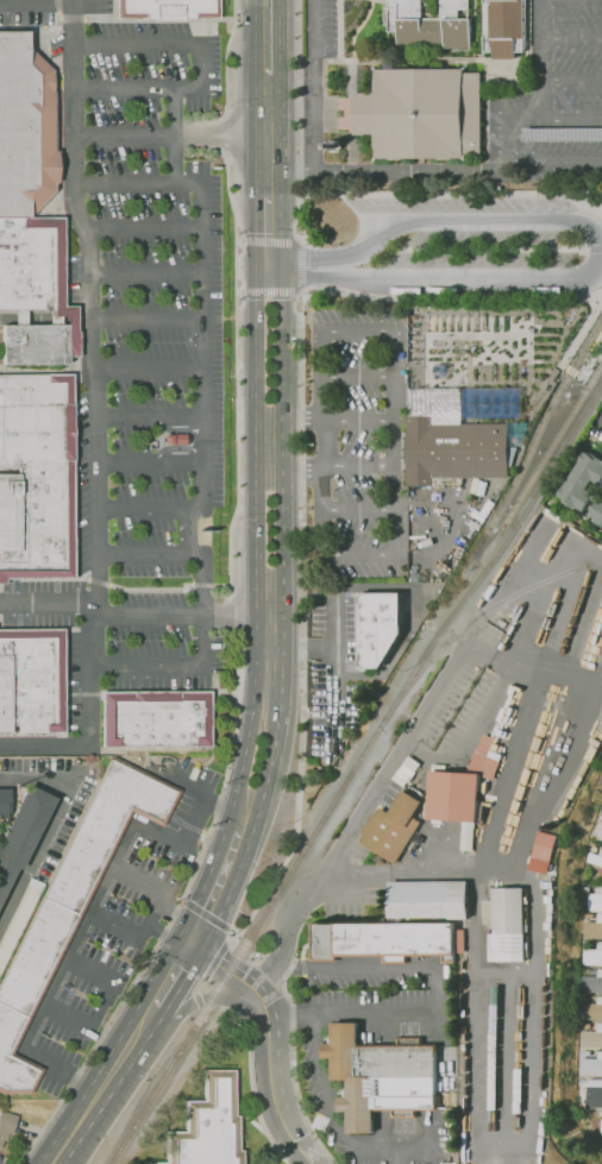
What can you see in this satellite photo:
road: (35, 0)
road: (56, 6)
building: (165, 8)
road: (71, 18)
road: (157, 19)
building: (426, 27)
building: (503, 27)
road: (312, 29)
road: (268, 38)
road: (571, 38)
road: (225, 57)
road: (540, 59)
road: (197, 67)
road: (571, 82)
road: (296, 97)
road: (268, 107)
building: (422, 112)
road: (571, 119)
road: (522, 120)
building: (25, 127)
building: (562, 133)
road: (224, 134)
road: (173, 136)
road: (168, 137)
road: (312, 137)
building: (332, 146)
road: (268, 155)
road: (546, 161)
road: (424, 171)
road: (451, 194)
road: (230, 196)
road: (268, 215)
road: (296, 218)
road: (433, 220)
road: (143, 226)
road: (266, 239)
parking lot: (476, 245)
road: (490, 247)
road: (591, 247)
traffic signals: (268, 258)
road: (238, 265)
road: (301, 265)
road: (261, 266)
road: (272, 266)
road: (144, 272)
road: (573, 275)
traffic signals: (253, 276)
road: (265, 276)
traffic signals: (278, 276)
road: (380, 276)
road: (508, 276)
building: (35, 289)
road: (269, 292)
road: (451, 296)
road: (64, 297)
road: (33, 320)
road: (71, 320)
road: (82, 320)
road: (143, 320)
road: (356, 331)
road: (200, 336)
railway: (590, 347)
road: (253, 348)
road: (280, 348)
road: (567, 351)
parking lot: (155, 354)
road: (144, 366)
road: (318, 376)
railway: (598, 390)
building: (434, 403)
road: (96, 410)
road: (358, 415)
road: (148, 416)
road: (291, 417)
road: (175, 429)
building: (174, 439)
road: (321, 441)
road: (400, 441)
railway: (532, 445)
road: (266, 446)
road: (238, 447)
road: (174, 448)
railway: (550, 448)
building: (457, 449)
road: (149, 463)
road: (359, 466)
road: (274, 467)
road: (300, 467)
building: (37, 477)
building: (583, 482)
road: (320, 510)
building: (598, 512)
road: (187, 531)
road: (255, 545)
road: (281, 545)
road: (150, 553)
road: (364, 553)
road: (98, 581)
road: (201, 584)
road: (221, 584)
road: (410, 589)
road: (149, 590)
road: (45, 604)
road: (180, 616)
road: (224, 616)
railway: (466, 624)
road: (301, 627)
building: (375, 628)
road: (336, 647)
road: (269, 656)
road: (200, 665)
road: (578, 680)
building: (31, 681)
building: (157, 717)
road: (469, 735)
road: (244, 751)
road: (271, 757)
road: (504, 770)
railway: (347, 776)
road: (177, 785)
building: (450, 798)
building: (601, 800)
building: (2, 805)
road: (221, 806)
building: (600, 806)
road: (240, 820)
road: (52, 823)
building: (390, 829)
building: (597, 830)
building: (20, 835)
railway: (300, 848)
building: (543, 851)
building: (592, 860)
railway: (281, 867)
road: (217, 886)
road: (161, 892)
building: (427, 900)
building: (595, 902)
building: (64, 913)
road: (175, 913)
building: (17, 914)
road: (205, 914)
road: (288, 924)
building: (506, 924)
building: (591, 930)
road: (80, 931)
road: (138, 931)
road: (233, 931)
road: (230, 937)
traffic signals: (190, 938)
building: (381, 940)
road: (230, 944)
building: (589, 956)
road: (214, 959)
road: (220, 967)
road: (173, 973)
road: (504, 974)
traffic signals: (240, 980)
building: (590, 983)
road: (199, 986)
road: (437, 994)
road: (99, 1002)
road: (199, 1003)
road: (182, 1005)
building: (590, 1011)
road: (140, 1030)
building: (589, 1039)
road: (291, 1046)
road: (268, 1051)
building: (590, 1067)
building: (385, 1077)
building: (590, 1095)
road: (93, 1099)
road: (333, 1124)
building: (7, 1125)
building: (213, 1126)
building: (601, 1126)
road: (290, 1139)
road: (507, 1146)
road: (50, 1154)
road: (57, 1154)
road: (300, 1162)

